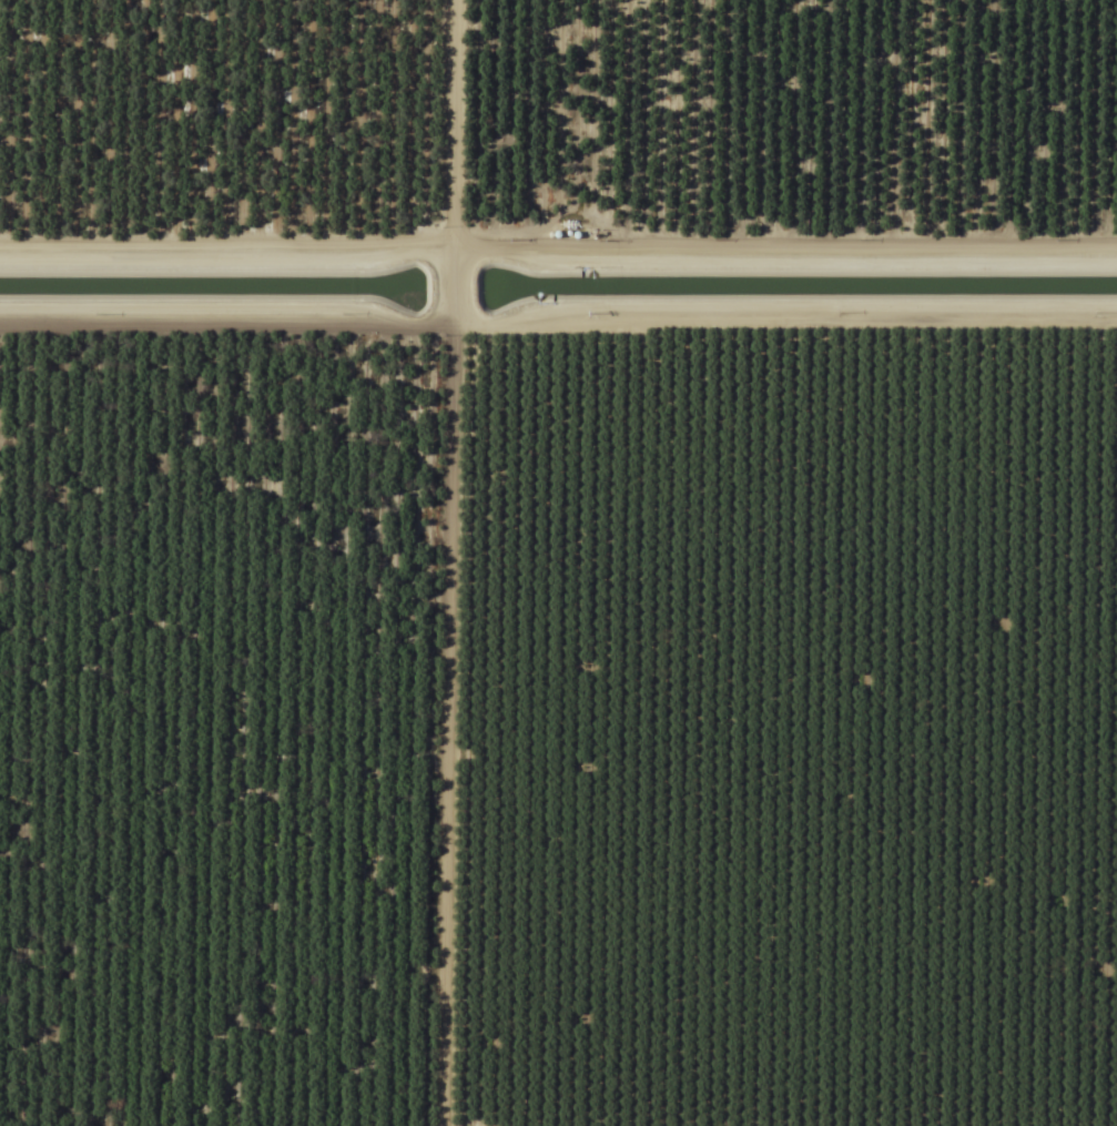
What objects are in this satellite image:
crop: (558, 562)
road: (595, 1125)

